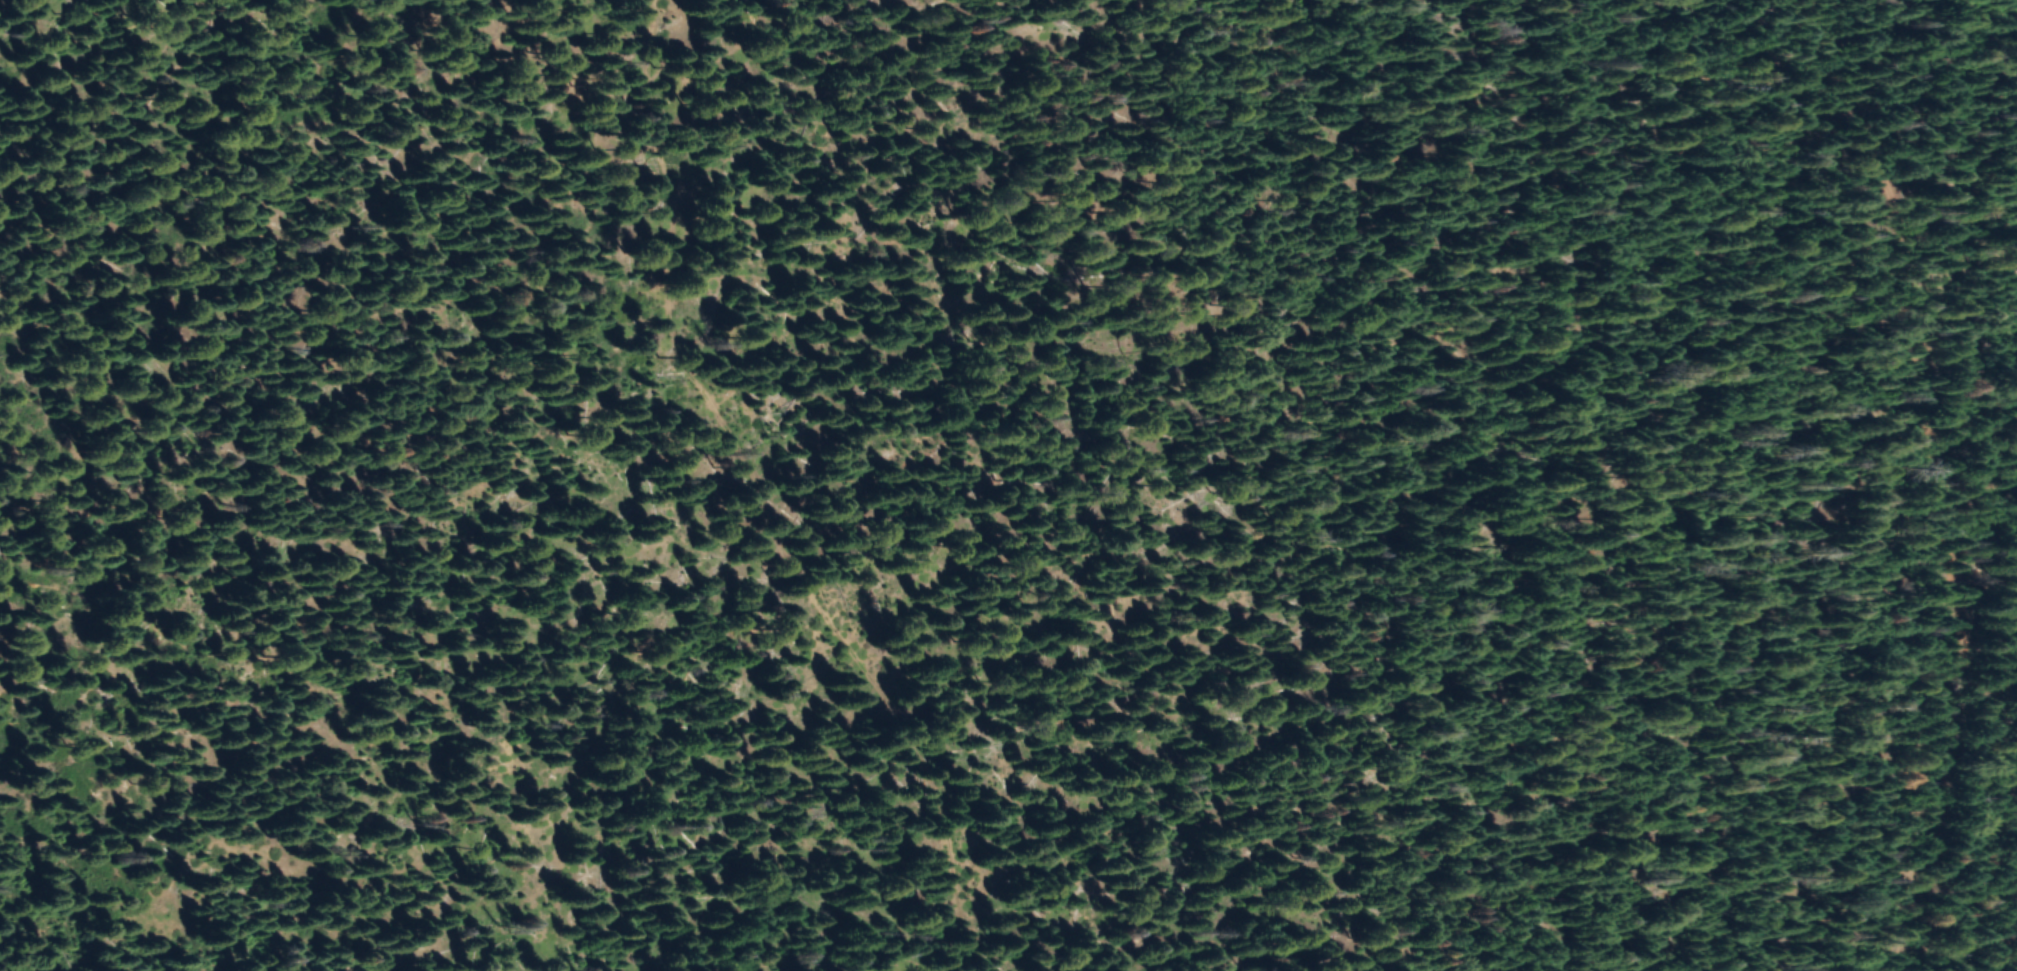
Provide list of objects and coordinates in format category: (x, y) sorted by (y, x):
road: (1928, 462)
road: (1909, 854)

